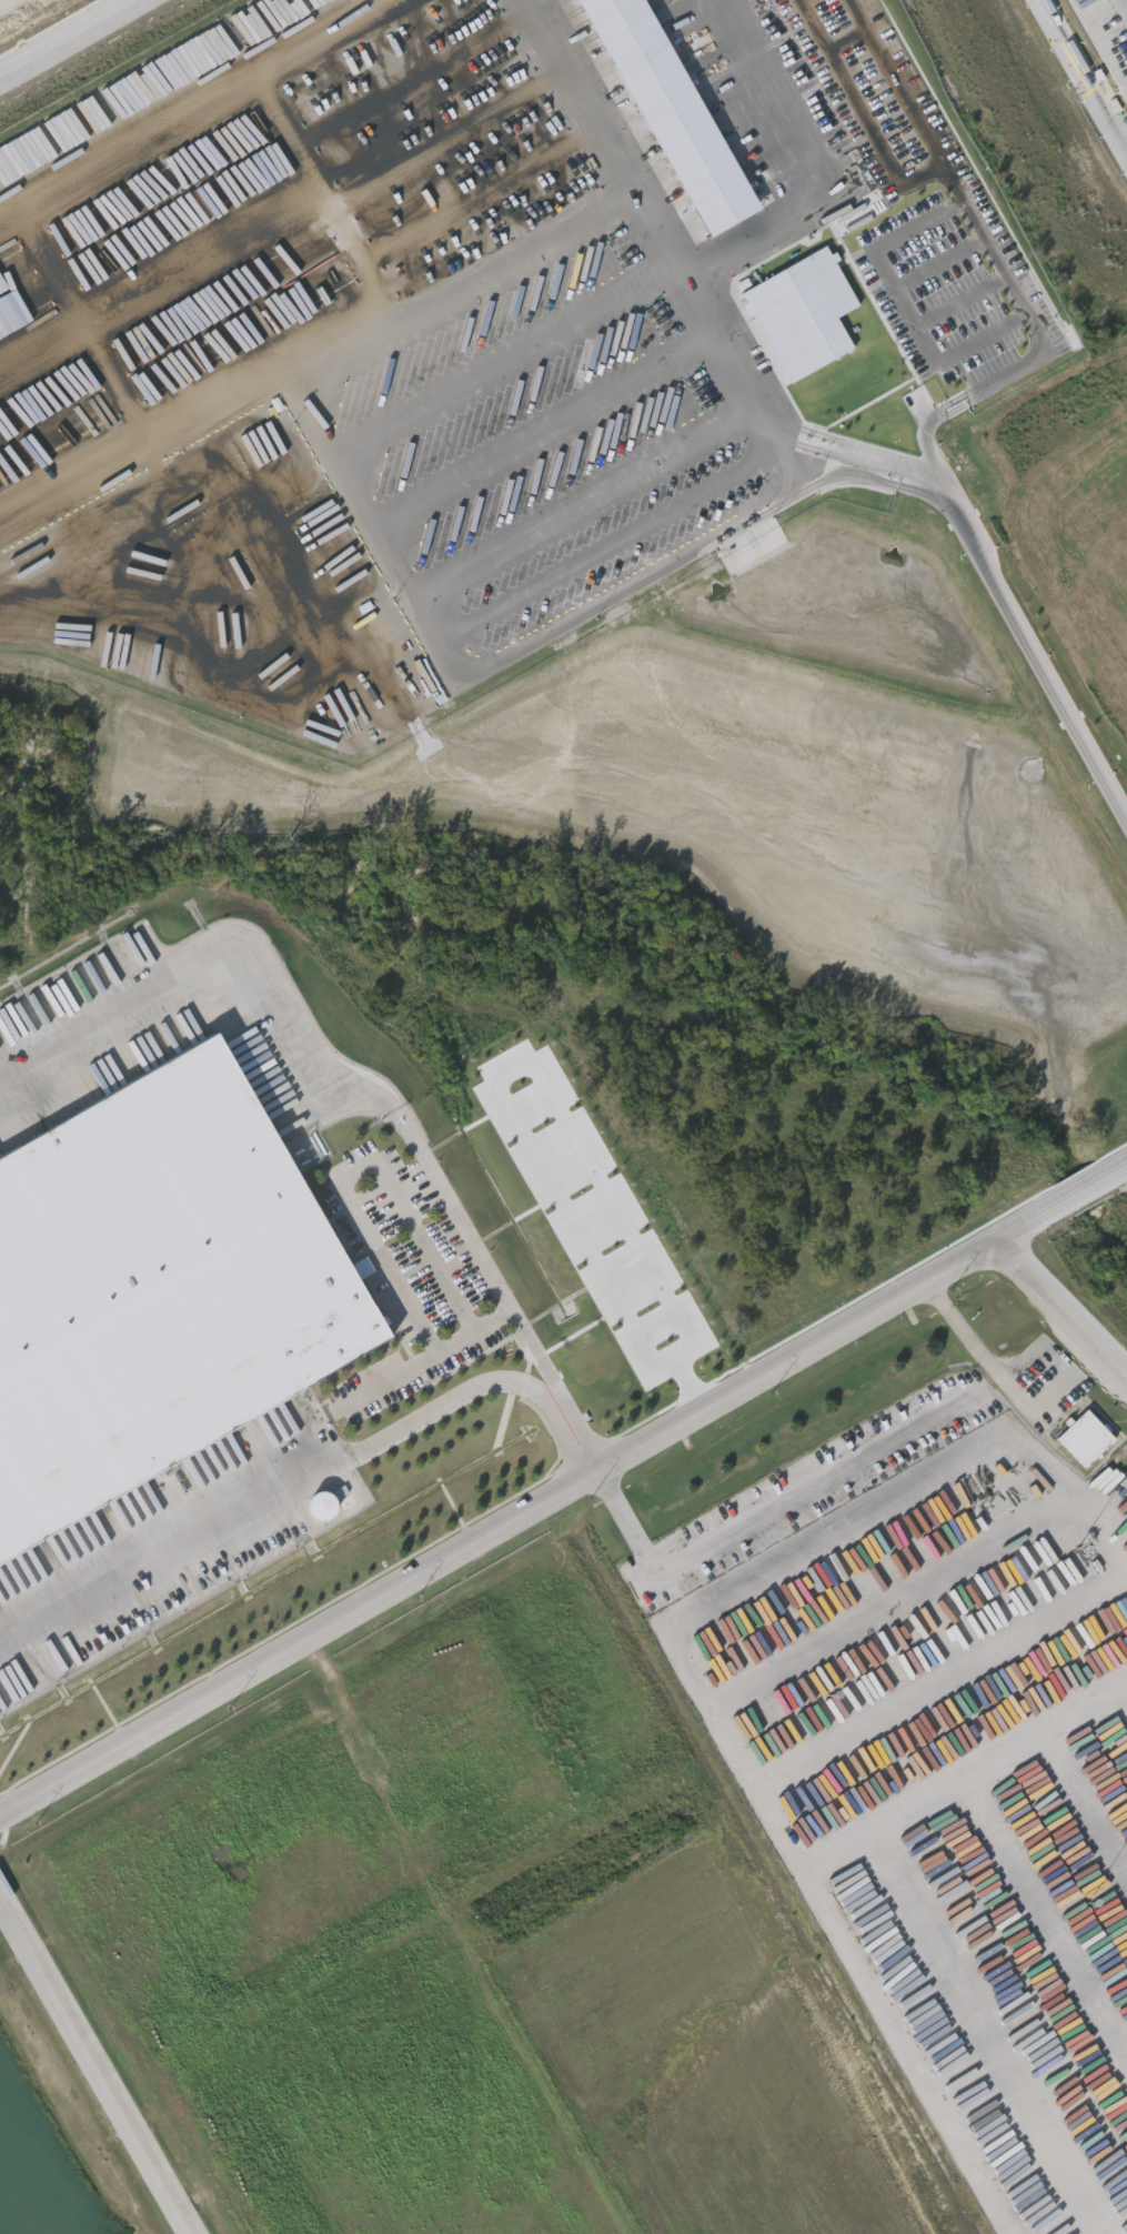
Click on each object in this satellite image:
road: (70, 38)
road: (844, 41)
road: (1088, 71)
road: (411, 77)
road: (893, 85)
road: (191, 109)
road: (857, 110)
road: (443, 134)
road: (813, 168)
road: (323, 191)
road: (949, 192)
road: (477, 198)
road: (873, 264)
road: (933, 268)
road: (162, 284)
road: (684, 301)
road: (955, 304)
road: (84, 326)
road: (306, 352)
road: (505, 369)
road: (542, 435)
road: (580, 509)
road: (612, 542)
road: (978, 555)
road: (534, 650)
road: (200, 997)
road: (510, 1071)
road: (359, 1174)
building: (362, 1268)
building: (157, 1288)
road: (500, 1289)
road: (1059, 1308)
road: (426, 1358)
road: (673, 1358)
road: (984, 1361)
road: (686, 1382)
building: (1088, 1437)
building: (1125, 1482)
road: (295, 1486)
road: (563, 1486)
road: (767, 1515)
building: (1116, 1518)
road: (794, 1556)
road: (351, 1710)
road: (812, 1894)
road: (93, 2069)

